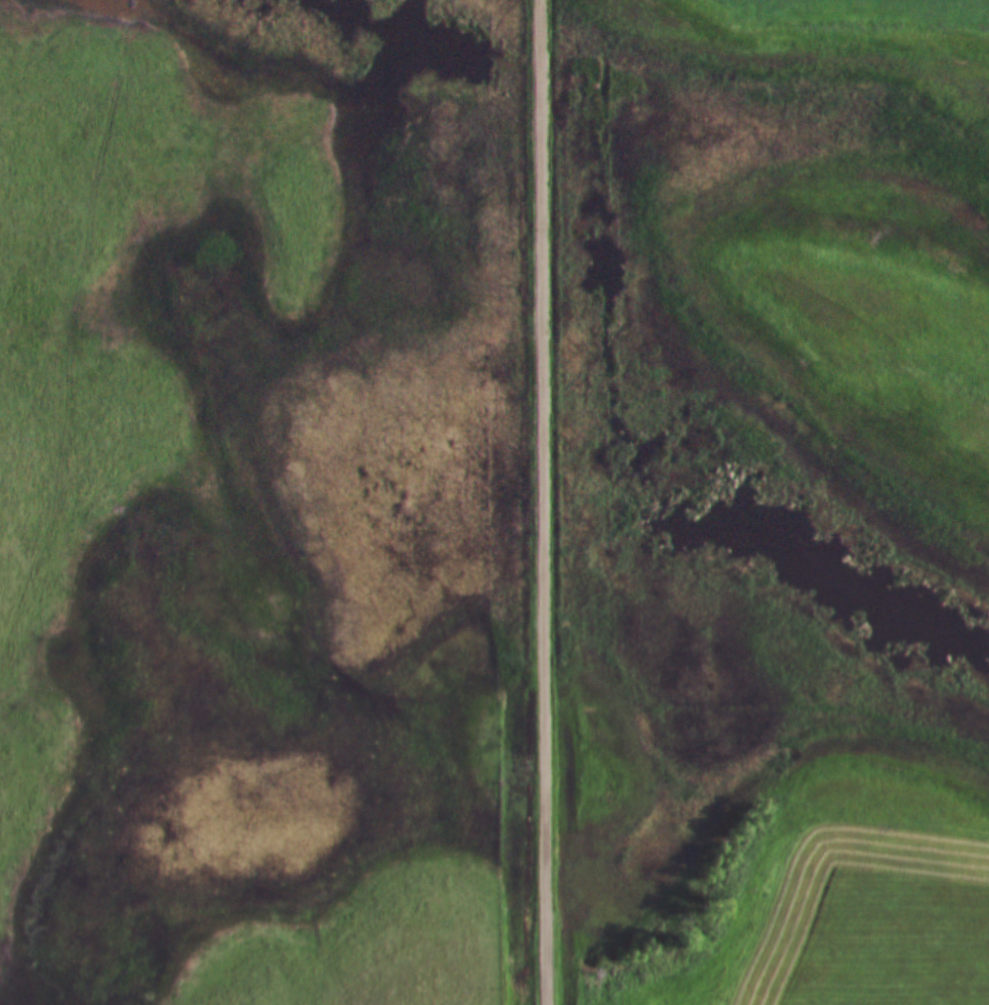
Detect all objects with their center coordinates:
road: (540, 502)

